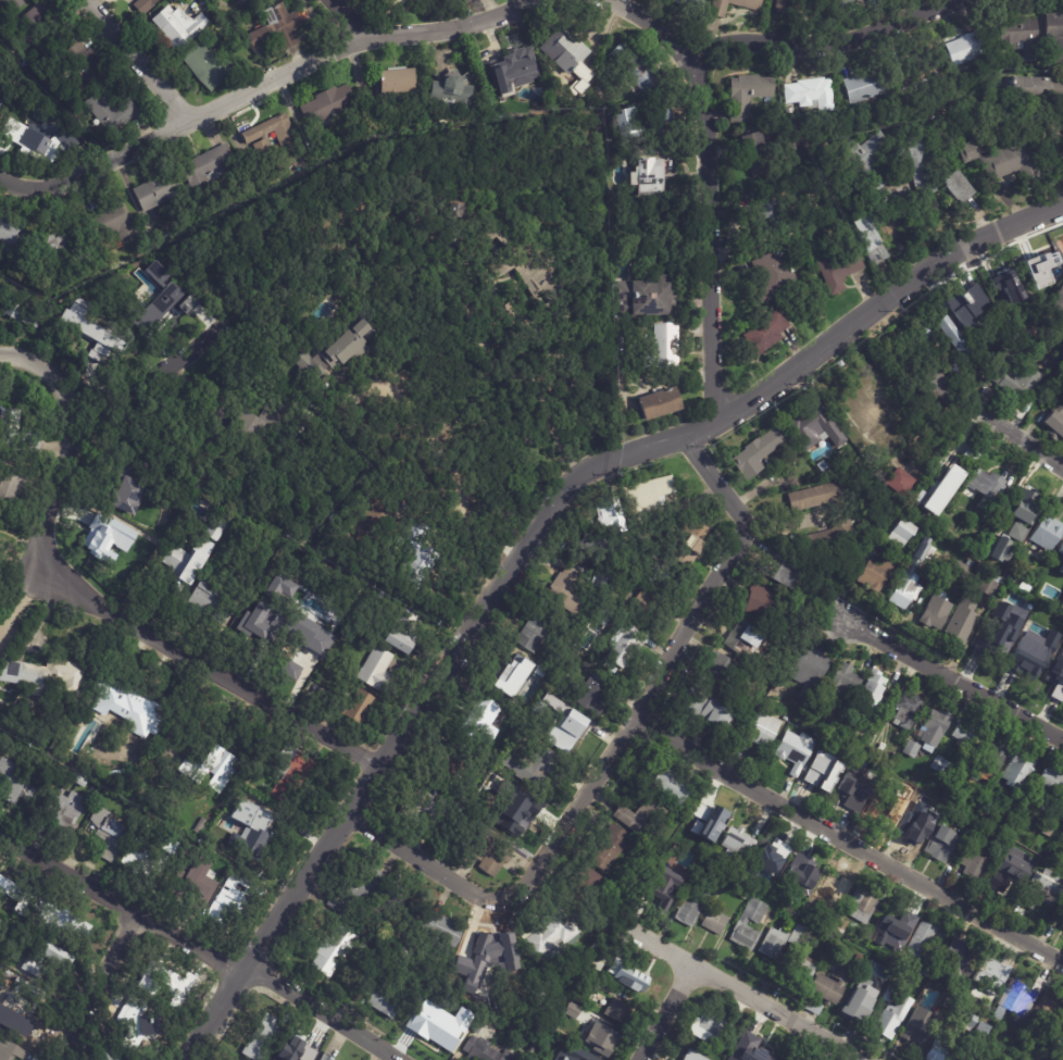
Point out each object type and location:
building: (242, 1)
building: (390, 3)
building: (9, 4)
building: (693, 4)
building: (147, 5)
building: (784, 5)
building: (841, 5)
building: (716, 11)
building: (35, 20)
road: (337, 21)
building: (174, 24)
building: (275, 26)
building: (1017, 37)
building: (1053, 38)
road: (776, 43)
building: (42, 47)
building: (964, 49)
building: (571, 52)
road: (135, 60)
building: (513, 62)
building: (207, 64)
building: (87, 67)
building: (638, 68)
road: (273, 79)
building: (393, 80)
building: (866, 86)
building: (1033, 89)
building: (809, 92)
building: (458, 95)
building: (746, 95)
building: (328, 104)
building: (112, 110)
building: (668, 120)
building: (268, 128)
building: (1043, 129)
building: (37, 142)
building: (759, 148)
building: (264, 150)
building: (965, 152)
building: (865, 161)
building: (1010, 163)
building: (914, 164)
building: (209, 166)
building: (654, 178)
road: (11, 180)
building: (955, 186)
building: (159, 192)
building: (764, 194)
building: (457, 210)
building: (464, 212)
building: (112, 222)
road: (711, 236)
building: (12, 238)
building: (866, 240)
building: (68, 246)
building: (1045, 263)
building: (529, 270)
building: (838, 270)
building: (158, 272)
building: (773, 274)
building: (1002, 286)
building: (641, 297)
building: (1056, 301)
building: (145, 302)
building: (186, 303)
building: (965, 305)
building: (453, 309)
building: (158, 310)
building: (25, 315)
building: (921, 333)
building: (91, 335)
building: (762, 335)
building: (952, 337)
building: (670, 345)
building: (338, 352)
road: (159, 371)
building: (1015, 382)
building: (930, 388)
building: (663, 404)
building: (864, 407)
building: (942, 416)
building: (307, 422)
building: (1054, 422)
building: (808, 427)
building: (255, 432)
road: (1016, 433)
building: (18, 434)
building: (58, 448)
building: (755, 453)
building: (817, 465)
road: (445, 471)
building: (895, 484)
building: (984, 486)
building: (14, 487)
building: (132, 488)
building: (645, 497)
building: (813, 497)
building: (927, 502)
building: (606, 511)
building: (1015, 514)
building: (1016, 531)
building: (217, 533)
road: (534, 533)
building: (901, 533)
building: (1046, 534)
building: (825, 539)
building: (873, 544)
building: (603, 546)
building: (691, 548)
building: (999, 549)
building: (1060, 553)
building: (418, 559)
building: (115, 561)
building: (1060, 564)
building: (184, 568)
building: (1048, 572)
building: (875, 574)
building: (777, 575)
building: (977, 576)
building: (625, 577)
building: (909, 577)
building: (605, 579)
building: (656, 579)
building: (1009, 581)
building: (571, 588)
building: (1023, 588)
building: (280, 589)
building: (1040, 596)
road: (22, 598)
building: (326, 599)
building: (214, 600)
building: (760, 603)
building: (1015, 606)
building: (649, 607)
road: (96, 608)
building: (935, 613)
road: (43, 614)
building: (961, 622)
building: (258, 623)
building: (1059, 627)
building: (300, 628)
building: (408, 633)
building: (536, 633)
building: (1001, 633)
building: (743, 638)
building: (1020, 641)
building: (630, 646)
building: (556, 657)
building: (46, 669)
building: (382, 671)
building: (714, 672)
building: (809, 672)
building: (521, 675)
building: (1056, 676)
road: (955, 677)
building: (846, 681)
building: (871, 688)
building: (597, 695)
building: (130, 696)
building: (558, 702)
building: (826, 702)
building: (357, 706)
building: (701, 709)
building: (906, 711)
building: (485, 712)
building: (801, 718)
building: (866, 725)
building: (934, 727)
building: (577, 728)
building: (825, 728)
building: (761, 731)
building: (963, 732)
building: (816, 735)
building: (839, 738)
road: (612, 747)
building: (911, 747)
building: (793, 750)
building: (986, 760)
building: (937, 764)
building: (530, 765)
building: (227, 766)
building: (1017, 771)
building: (295, 775)
building: (816, 776)
building: (18, 782)
building: (84, 782)
building: (849, 783)
building: (667, 785)
building: (1048, 785)
building: (917, 795)
building: (997, 797)
building: (435, 805)
building: (934, 807)
building: (1060, 810)
building: (68, 811)
building: (517, 812)
building: (879, 813)
building: (1020, 813)
building: (706, 815)
building: (639, 818)
building: (911, 821)
building: (1049, 827)
building: (254, 832)
building: (110, 833)
building: (987, 833)
building: (691, 834)
building: (679, 837)
building: (733, 841)
road: (846, 841)
building: (939, 844)
building: (606, 848)
building: (492, 852)
building: (151, 855)
building: (671, 856)
building: (771, 857)
building: (661, 861)
building: (972, 863)
building: (728, 866)
building: (798, 870)
building: (1009, 874)
building: (201, 878)
building: (716, 880)
building: (585, 881)
building: (360, 889)
building: (403, 890)
building: (1041, 891)
building: (18, 893)
building: (825, 893)
building: (745, 894)
building: (654, 896)
building: (797, 897)
building: (235, 898)
building: (689, 903)
building: (861, 905)
building: (385, 910)
building: (893, 920)
building: (713, 922)
building: (913, 922)
building: (35, 923)
building: (67, 923)
building: (740, 923)
building: (1, 924)
building: (1061, 925)
building: (479, 926)
building: (839, 926)
building: (447, 930)
building: (793, 935)
building: (550, 936)
building: (921, 940)
building: (771, 943)
building: (20, 944)
road: (203, 944)
building: (838, 947)
building: (338, 951)
building: (489, 952)
building: (63, 958)
building: (859, 959)
building: (904, 959)
building: (597, 964)
building: (954, 965)
building: (798, 968)
building: (925, 968)
building: (613, 970)
building: (990, 977)
building: (168, 980)
building: (591, 981)
building: (634, 981)
building: (830, 983)
road: (100, 985)
road: (740, 988)
building: (385, 994)
building: (874, 994)
building: (888, 994)
building: (479, 996)
building: (1017, 997)
building: (853, 999)
building: (537, 1001)
building: (812, 1007)
building: (16, 1009)
building: (577, 1011)
building: (618, 1011)
road: (672, 1012)
building: (890, 1018)
building: (138, 1024)
building: (438, 1026)
building: (705, 1027)
building: (915, 1027)
building: (979, 1034)
building: (264, 1037)
building: (598, 1038)
building: (299, 1048)
building: (942, 1049)
building: (11, 1050)
building: (484, 1051)
building: (763, 1052)
building: (107, 1053)
building: (578, 1056)
building: (693, 1056)
building: (968, 1056)
building: (1001, 1056)
building: (326, 1057)

